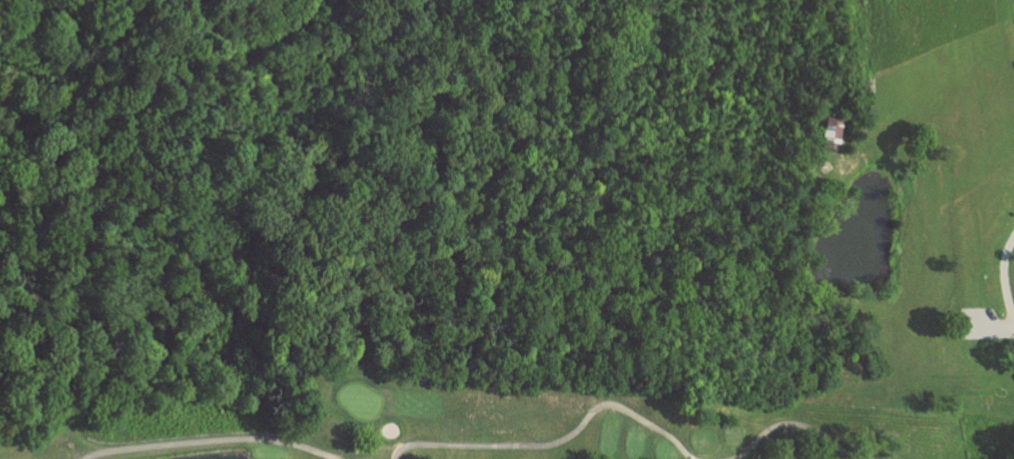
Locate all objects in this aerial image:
road: (998, 277)
park: (473, 419)
road: (793, 430)
road: (205, 441)
road: (558, 445)

